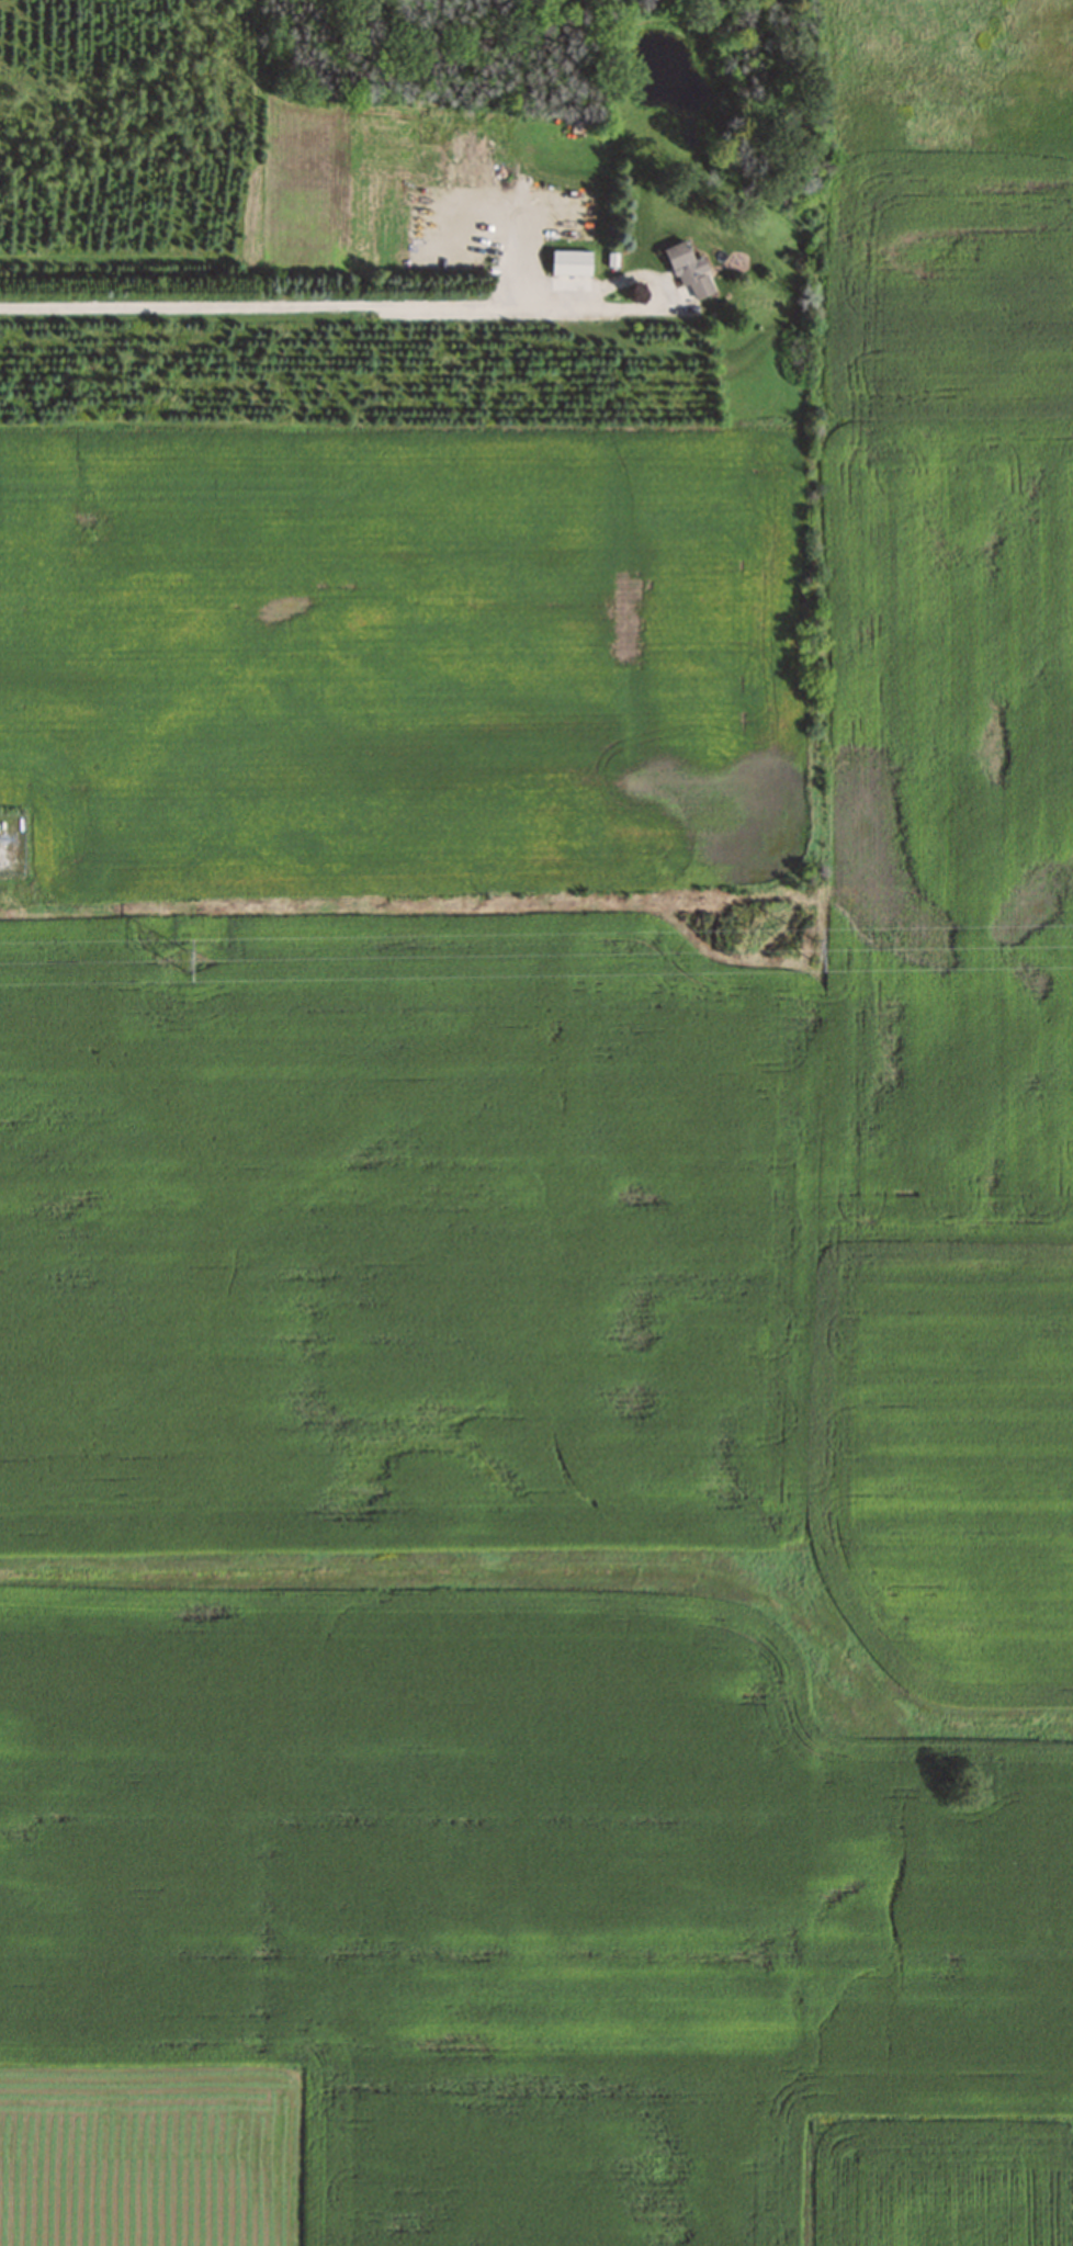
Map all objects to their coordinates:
building: (571, 261)
building: (689, 269)
power tower: (812, 943)
power tower: (187, 958)

